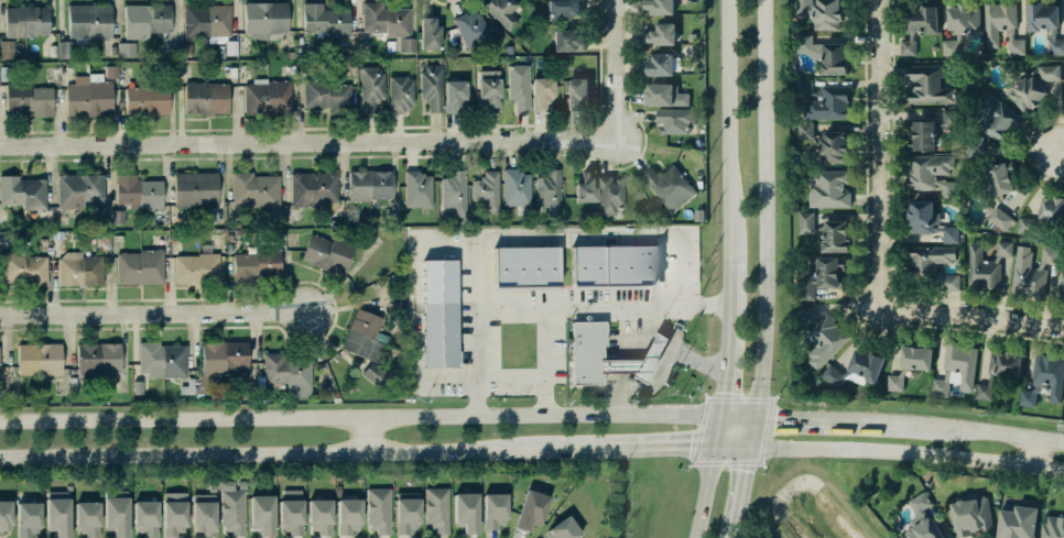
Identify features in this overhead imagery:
building: (656, 7)
building: (562, 8)
building: (502, 11)
building: (824, 12)
building: (265, 15)
building: (25, 19)
building: (89, 19)
building: (326, 19)
building: (386, 19)
building: (146, 20)
building: (206, 20)
building: (1045, 22)
building: (919, 24)
building: (960, 24)
building: (1002, 25)
building: (471, 29)
building: (428, 33)
building: (660, 34)
building: (567, 39)
road: (599, 41)
building: (406, 44)
building: (127, 48)
building: (184, 48)
building: (7, 50)
building: (65, 50)
building: (826, 53)
building: (658, 63)
road: (626, 65)
road: (612, 67)
building: (111, 72)
road: (598, 78)
building: (927, 85)
building: (431, 86)
building: (519, 86)
building: (1033, 86)
building: (371, 87)
building: (489, 91)
building: (542, 91)
building: (454, 92)
building: (577, 92)
building: (327, 94)
building: (401, 94)
road: (627, 95)
building: (663, 95)
building: (88, 96)
building: (206, 97)
building: (268, 97)
building: (31, 99)
building: (146, 100)
building: (825, 101)
road: (632, 116)
building: (997, 117)
building: (675, 119)
road: (575, 127)
road: (879, 129)
road: (729, 130)
building: (929, 130)
building: (805, 131)
road: (304, 143)
building: (833, 146)
road: (1025, 150)
road: (1053, 150)
road: (627, 151)
road: (606, 153)
road: (587, 154)
road: (404, 155)
road: (750, 156)
road: (654, 162)
building: (929, 172)
road: (611, 173)
building: (1001, 176)
building: (666, 182)
building: (369, 184)
building: (586, 185)
building: (514, 186)
building: (196, 187)
building: (79, 188)
building: (256, 188)
building: (313, 188)
building: (416, 188)
building: (828, 188)
building: (486, 189)
building: (951, 189)
building: (138, 190)
building: (547, 190)
building: (22, 191)
building: (453, 193)
building: (610, 194)
road: (769, 208)
building: (1052, 210)
building: (116, 215)
building: (1000, 218)
building: (930, 221)
building: (1025, 227)
road: (893, 229)
road: (610, 231)
building: (826, 231)
road: (435, 250)
building: (328, 252)
building: (256, 264)
building: (614, 265)
building: (986, 265)
building: (139, 266)
building: (525, 266)
building: (22, 267)
building: (196, 267)
building: (78, 268)
road: (865, 268)
building: (931, 268)
building: (1030, 271)
building: (821, 275)
road: (344, 277)
road: (286, 283)
road: (12, 284)
road: (126, 285)
road: (243, 285)
building: (1061, 285)
road: (111, 286)
road: (170, 286)
road: (184, 286)
road: (210, 286)
road: (221, 286)
road: (230, 286)
road: (82, 287)
road: (258, 287)
road: (53, 288)
road: (141, 290)
road: (199, 290)
road: (24, 292)
road: (83, 292)
road: (730, 299)
road: (633, 304)
road: (199, 306)
road: (341, 307)
building: (439, 310)
road: (335, 311)
parking lot: (464, 311)
road: (949, 314)
road: (154, 315)
building: (806, 315)
street lamp: (935, 322)
street lamp: (95, 325)
road: (222, 332)
road: (98, 333)
road: (539, 333)
road: (36, 334)
road: (148, 334)
road: (160, 334)
building: (365, 334)
road: (254, 336)
road: (123, 338)
road: (135, 338)
road: (194, 338)
road: (238, 338)
road: (674, 338)
road: (6, 339)
road: (68, 339)
road: (110, 339)
road: (52, 340)
road: (625, 340)
building: (825, 340)
road: (2, 341)
road: (284, 342)
road: (315, 349)
building: (587, 350)
gas station: (650, 354)
building: (98, 356)
building: (39, 358)
building: (162, 359)
building: (219, 362)
building: (910, 363)
building: (856, 366)
building: (956, 366)
road: (661, 369)
building: (999, 370)
building: (287, 372)
building: (372, 372)
building: (1050, 375)
road: (614, 376)
road: (727, 376)
building: (815, 382)
road: (598, 384)
building: (138, 386)
traffic signals: (727, 386)
street lamp: (698, 387)
building: (186, 389)
road: (701, 393)
road: (774, 396)
building: (1029, 397)
street lamp: (812, 410)
street lamp: (908, 411)
road: (379, 417)
traffic signals: (781, 417)
road: (793, 417)
street lamp: (985, 420)
road: (946, 428)
road: (719, 430)
street lamp: (1063, 430)
road: (757, 431)
road: (676, 446)
traffic signals: (676, 446)
road: (317, 450)
road: (890, 450)
road: (1035, 451)
road: (690, 464)
street lamp: (759, 464)
road: (762, 468)
traffic signals: (749, 480)
road: (747, 486)
road: (705, 491)
building: (231, 508)
building: (436, 508)
building: (378, 509)
building: (495, 509)
building: (531, 509)
building: (291, 510)
building: (466, 510)
building: (116, 512)
building: (406, 512)
building: (57, 513)
building: (203, 513)
building: (174, 514)
building: (262, 514)
building: (348, 515)
building: (319, 516)
building: (971, 516)
building: (4, 517)
building: (145, 517)
building: (28, 518)
building: (87, 518)
building: (923, 520)
building: (1018, 521)
road: (941, 523)
building: (1053, 527)
building: (563, 529)
road: (737, 531)

